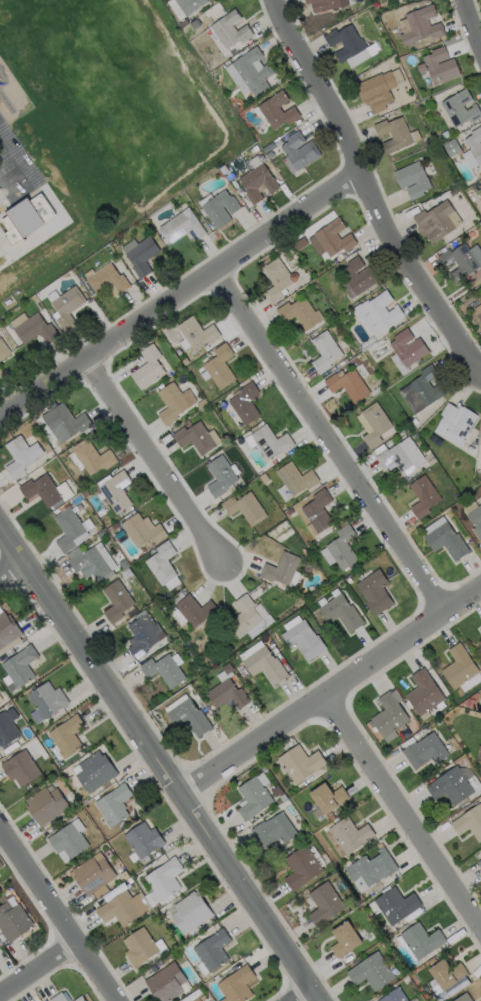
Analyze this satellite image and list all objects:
building: (327, 4)
building: (184, 6)
building: (418, 24)
road: (470, 27)
building: (229, 29)
building: (351, 45)
building: (438, 66)
building: (249, 73)
building: (375, 90)
building: (460, 108)
building: (277, 110)
building: (393, 133)
building: (451, 147)
building: (472, 147)
building: (297, 152)
building: (269, 154)
building: (223, 169)
building: (232, 177)
building: (412, 179)
building: (256, 180)
building: (480, 185)
road: (367, 193)
building: (219, 209)
building: (25, 217)
building: (436, 222)
building: (181, 227)
building: (332, 238)
building: (140, 256)
building: (461, 261)
building: (356, 277)
building: (276, 279)
building: (106, 280)
road: (178, 294)
building: (66, 306)
building: (478, 311)
building: (298, 313)
building: (378, 313)
building: (31, 327)
building: (195, 334)
building: (406, 348)
building: (4, 350)
building: (324, 351)
building: (218, 366)
building: (146, 368)
building: (1, 371)
building: (346, 385)
building: (421, 391)
building: (172, 402)
building: (245, 404)
building: (62, 423)
building: (372, 424)
building: (454, 424)
road: (332, 436)
building: (193, 438)
building: (480, 440)
building: (269, 442)
building: (20, 456)
building: (91, 457)
building: (399, 457)
road: (155, 462)
building: (219, 476)
building: (293, 481)
building: (45, 491)
building: (114, 491)
building: (423, 497)
building: (244, 509)
building: (316, 513)
building: (474, 519)
building: (68, 529)
building: (140, 530)
building: (446, 542)
building: (340, 550)
building: (160, 563)
building: (90, 566)
road: (11, 568)
building: (280, 569)
building: (373, 592)
building: (115, 602)
building: (193, 610)
building: (340, 613)
building: (248, 618)
building: (480, 627)
building: (8, 630)
building: (141, 635)
building: (302, 639)
building: (479, 644)
building: (20, 664)
building: (264, 667)
building: (460, 669)
building: (164, 670)
building: (226, 692)
road: (330, 692)
building: (421, 693)
building: (47, 697)
building: (0, 698)
building: (387, 715)
building: (186, 717)
building: (8, 725)
building: (66, 733)
building: (423, 751)
building: (478, 753)
building: (300, 760)
road: (155, 763)
building: (20, 766)
building: (94, 768)
building: (449, 786)
building: (255, 794)
building: (329, 794)
building: (114, 802)
building: (47, 803)
road: (402, 808)
building: (469, 823)
building: (274, 828)
building: (350, 833)
building: (69, 837)
building: (143, 838)
building: (303, 864)
building: (479, 864)
building: (371, 867)
building: (94, 871)
building: (164, 878)
building: (326, 901)
building: (398, 904)
building: (120, 907)
building: (192, 910)
building: (14, 920)
road: (56, 920)
building: (346, 936)
building: (422, 938)
building: (140, 945)
building: (213, 948)
building: (0, 950)
road: (37, 968)
building: (372, 970)
building: (449, 970)
building: (167, 981)
building: (237, 983)
building: (395, 995)
building: (59, 997)
building: (463, 997)
building: (197, 998)
building: (80, 999)
road: (304, 999)
building: (480, 1000)

